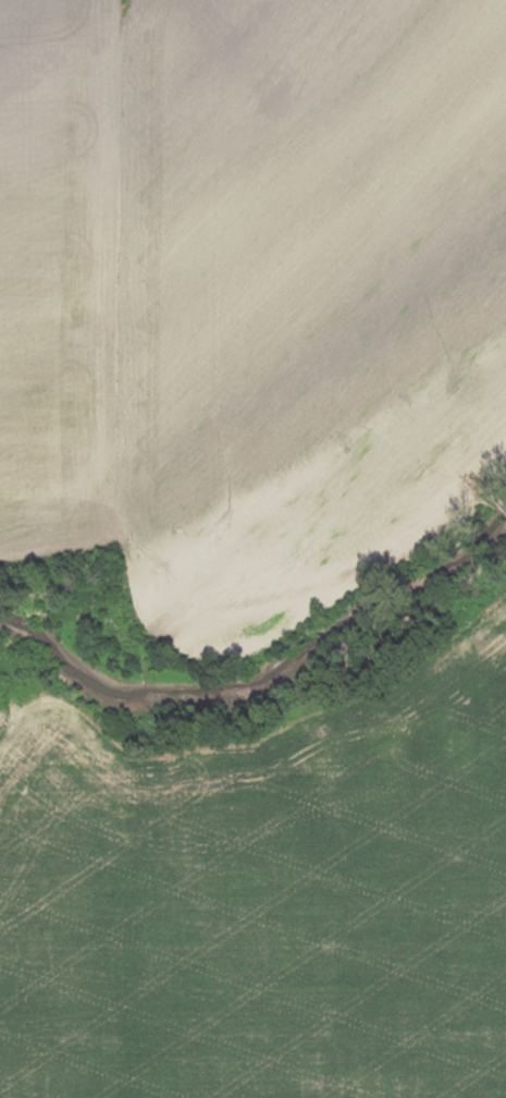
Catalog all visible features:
river: (263, 671)

